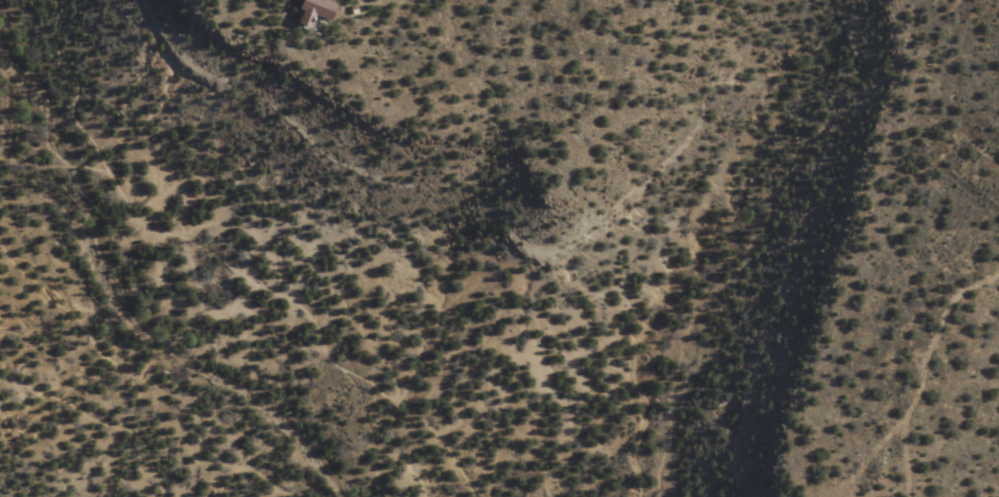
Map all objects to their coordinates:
building: (307, 13)
building: (998, 161)
road: (46, 173)
road: (225, 267)
road: (913, 383)
road: (95, 421)
road: (902, 453)

